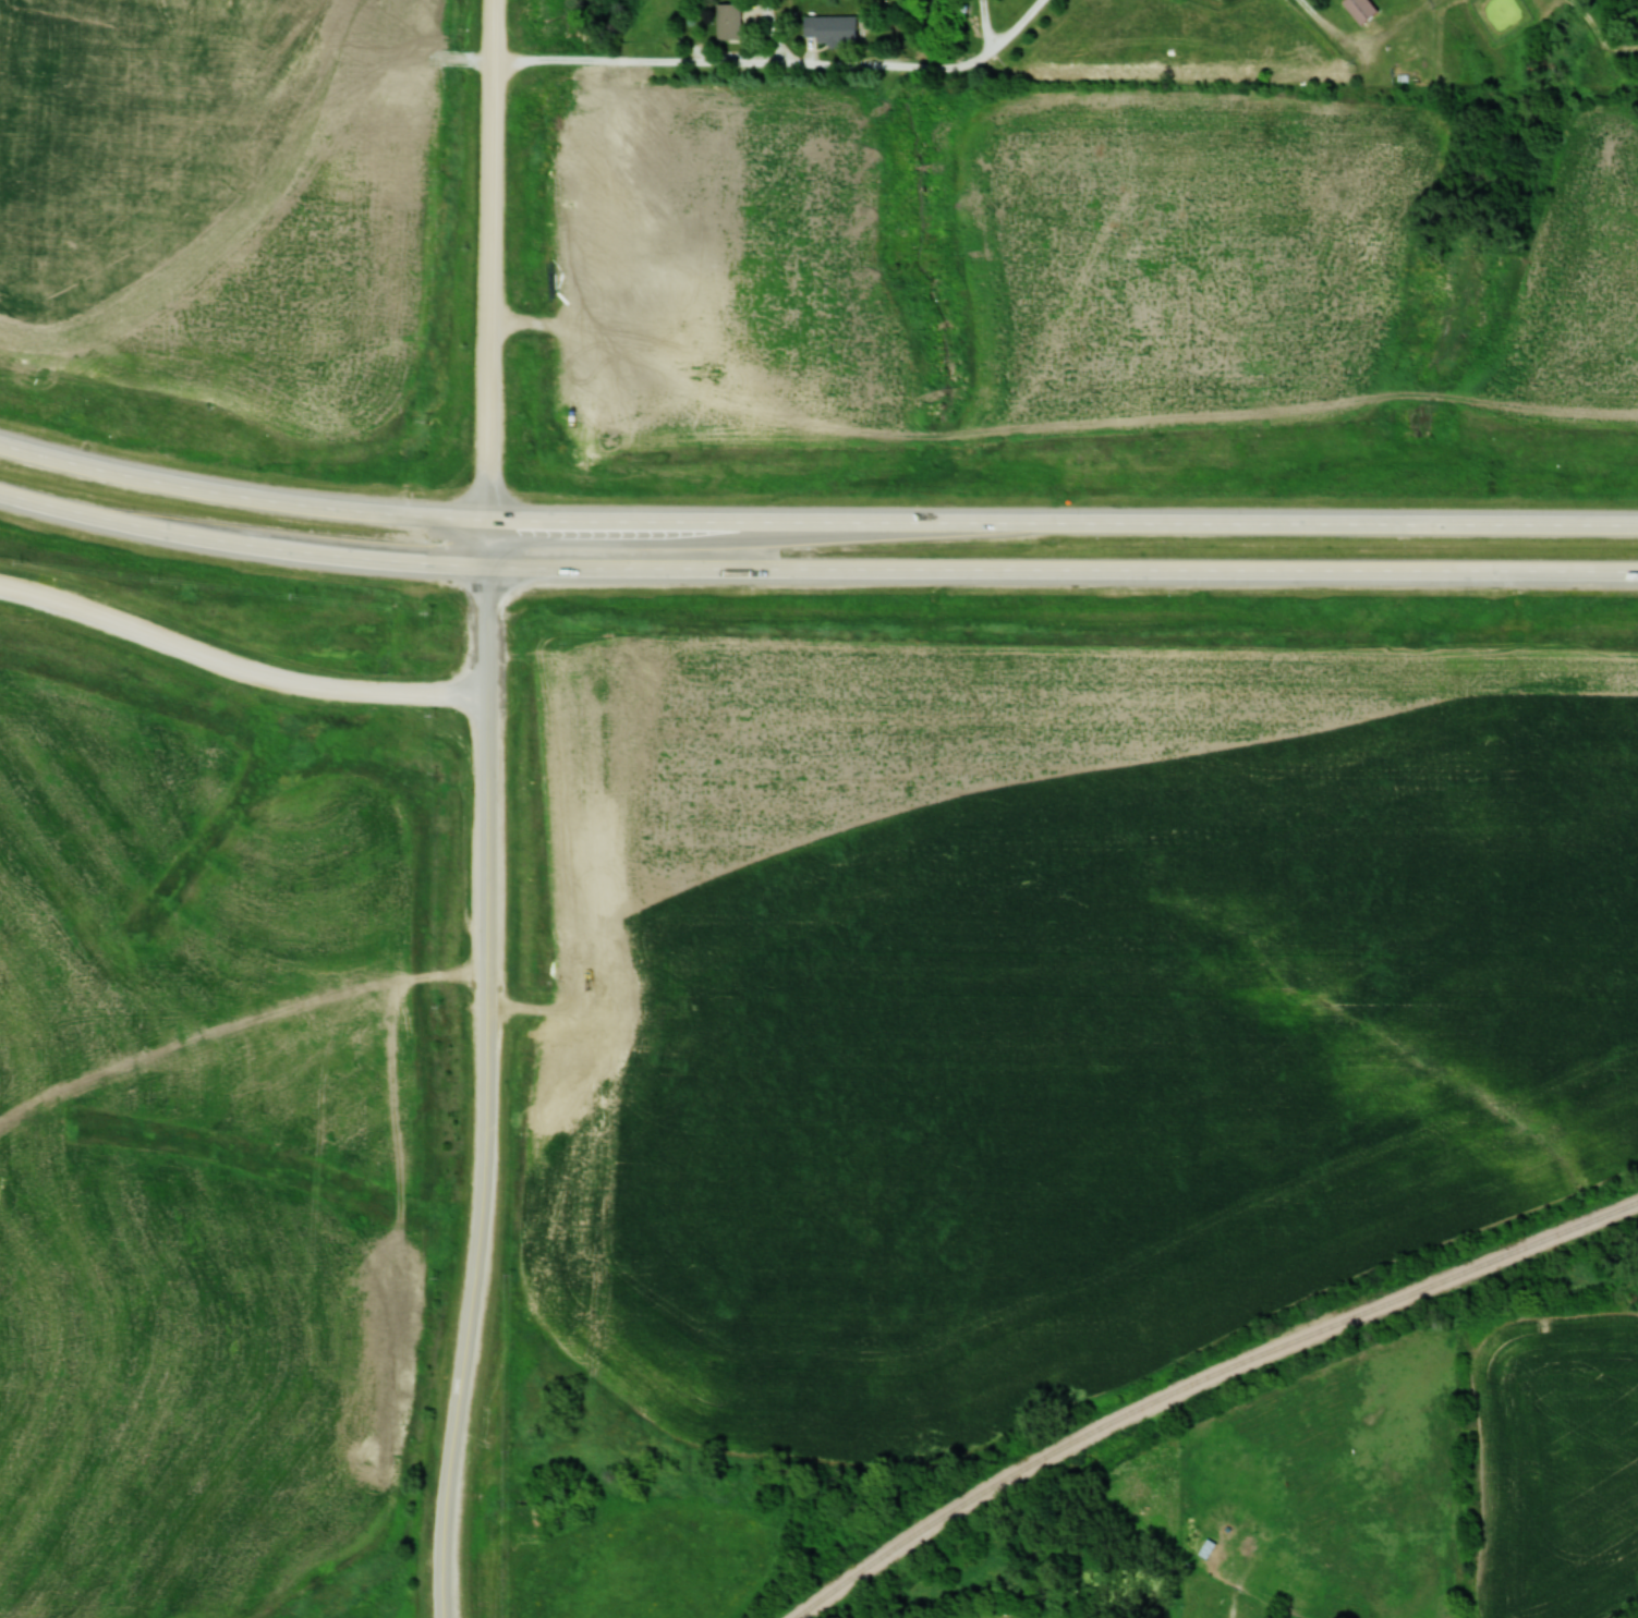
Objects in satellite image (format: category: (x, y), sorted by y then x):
building: (1359, 10)
road: (450, 21)
building: (727, 21)
building: (829, 28)
road: (753, 63)
crop: (161, 146)
road: (1166, 407)
road: (345, 463)
railway: (1200, 1379)
road: (461, 1418)

